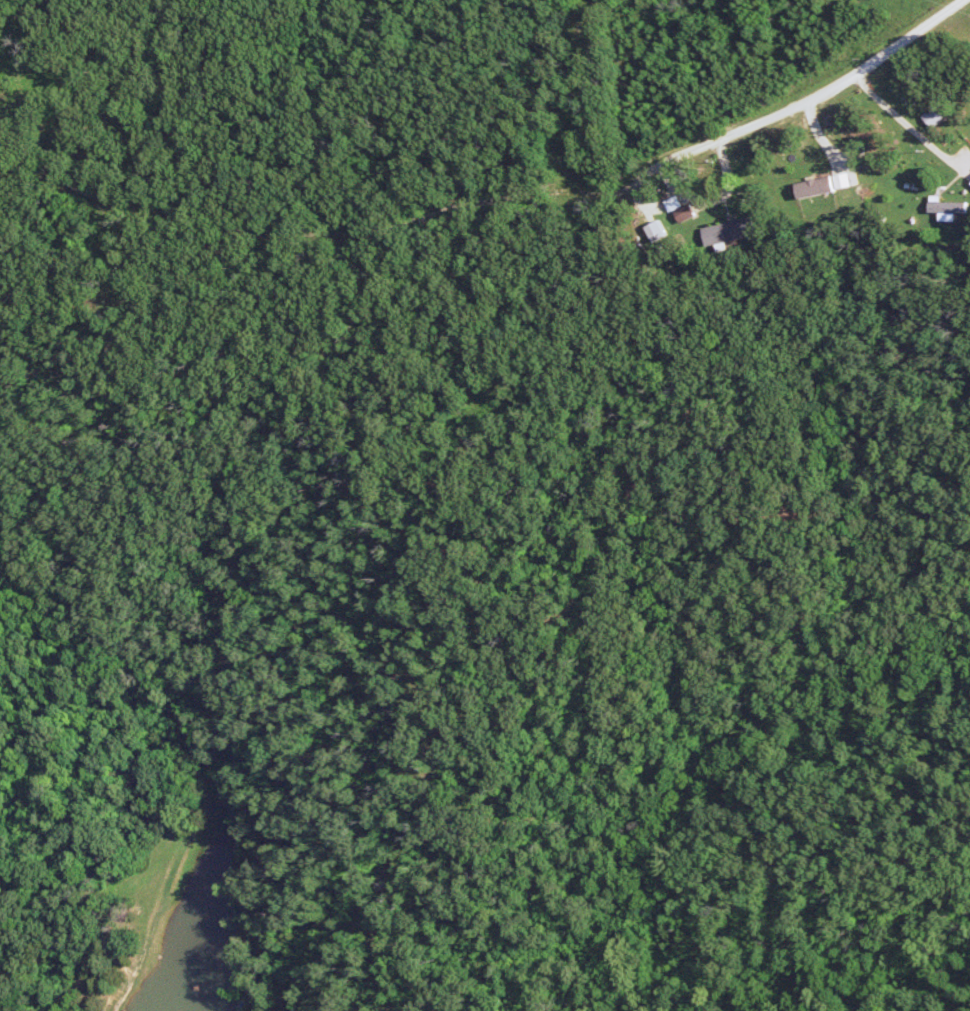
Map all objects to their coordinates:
road: (921, 133)
building: (846, 182)
building: (818, 189)
building: (950, 208)
building: (684, 210)
road: (486, 214)
building: (660, 232)
building: (731, 233)
road: (124, 984)

